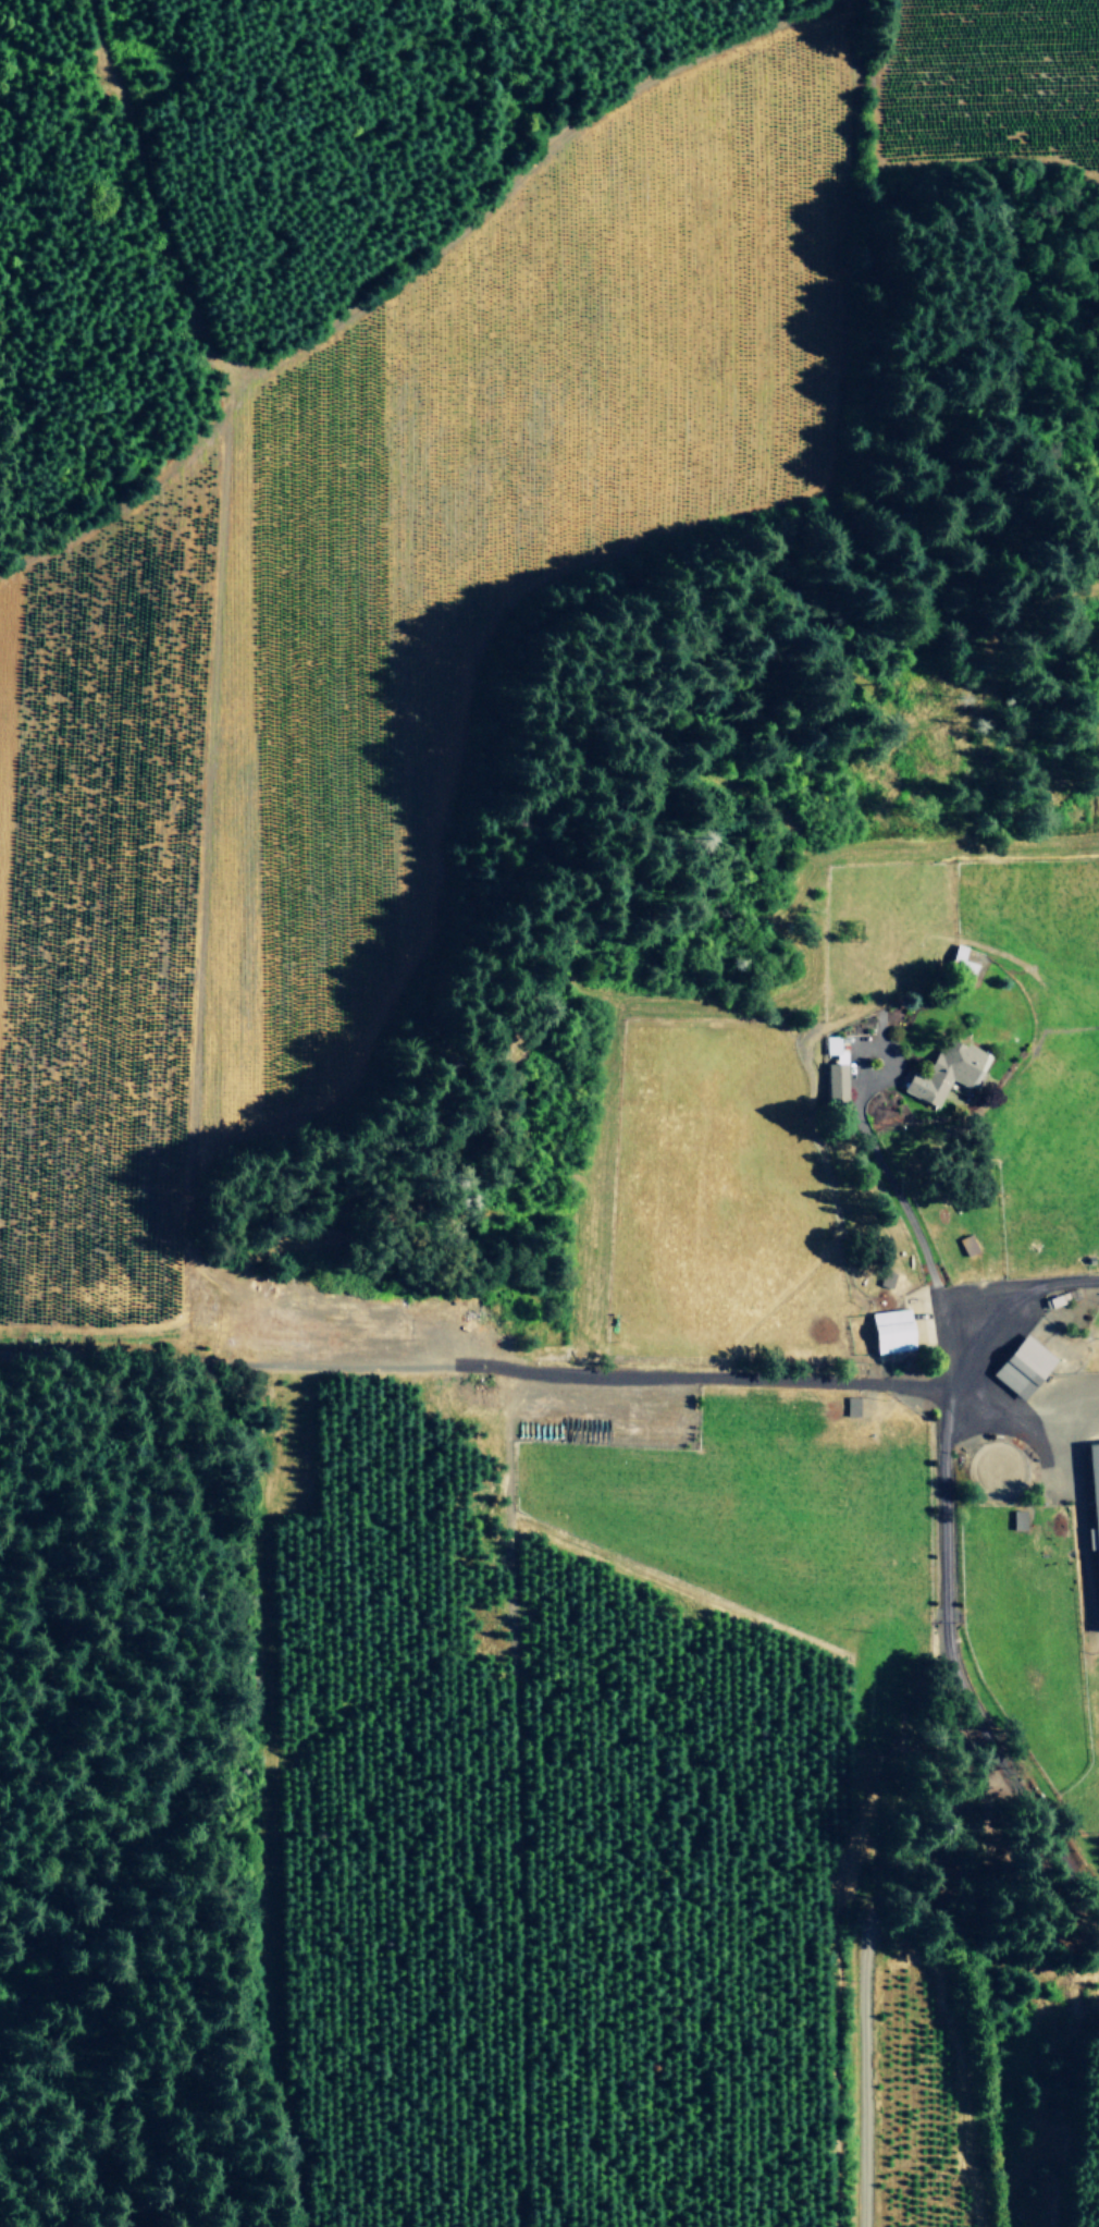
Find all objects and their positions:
road: (200, 856)
crop: (646, 959)
building: (835, 1068)
building: (948, 1073)
building: (885, 1278)
road: (1003, 1310)
building: (892, 1331)
building: (1024, 1367)
building: (851, 1406)
building: (1095, 1494)
building: (1017, 1520)
road: (940, 1579)
road: (884, 1880)

